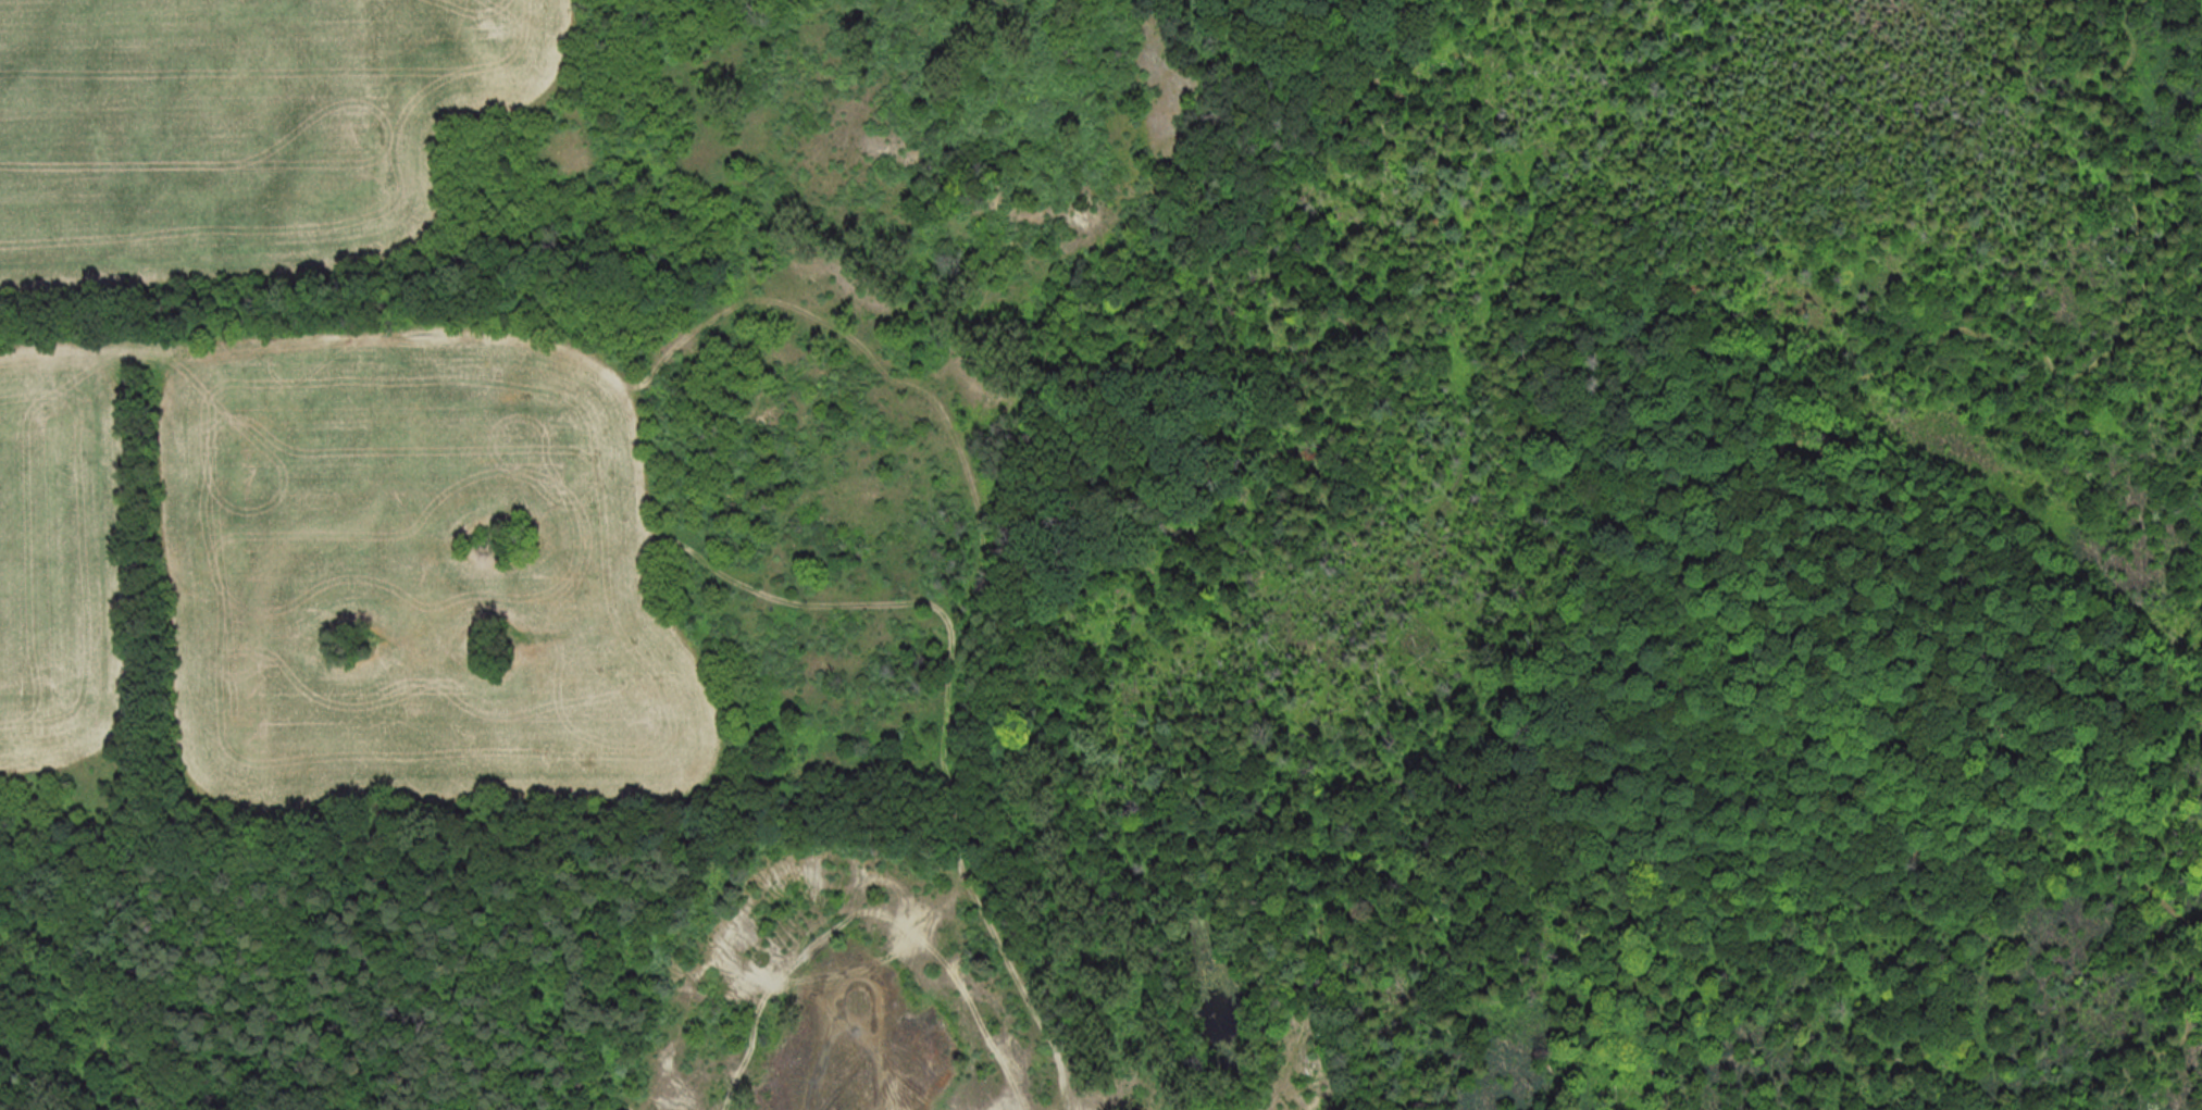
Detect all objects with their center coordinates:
park: (1914, 595)

